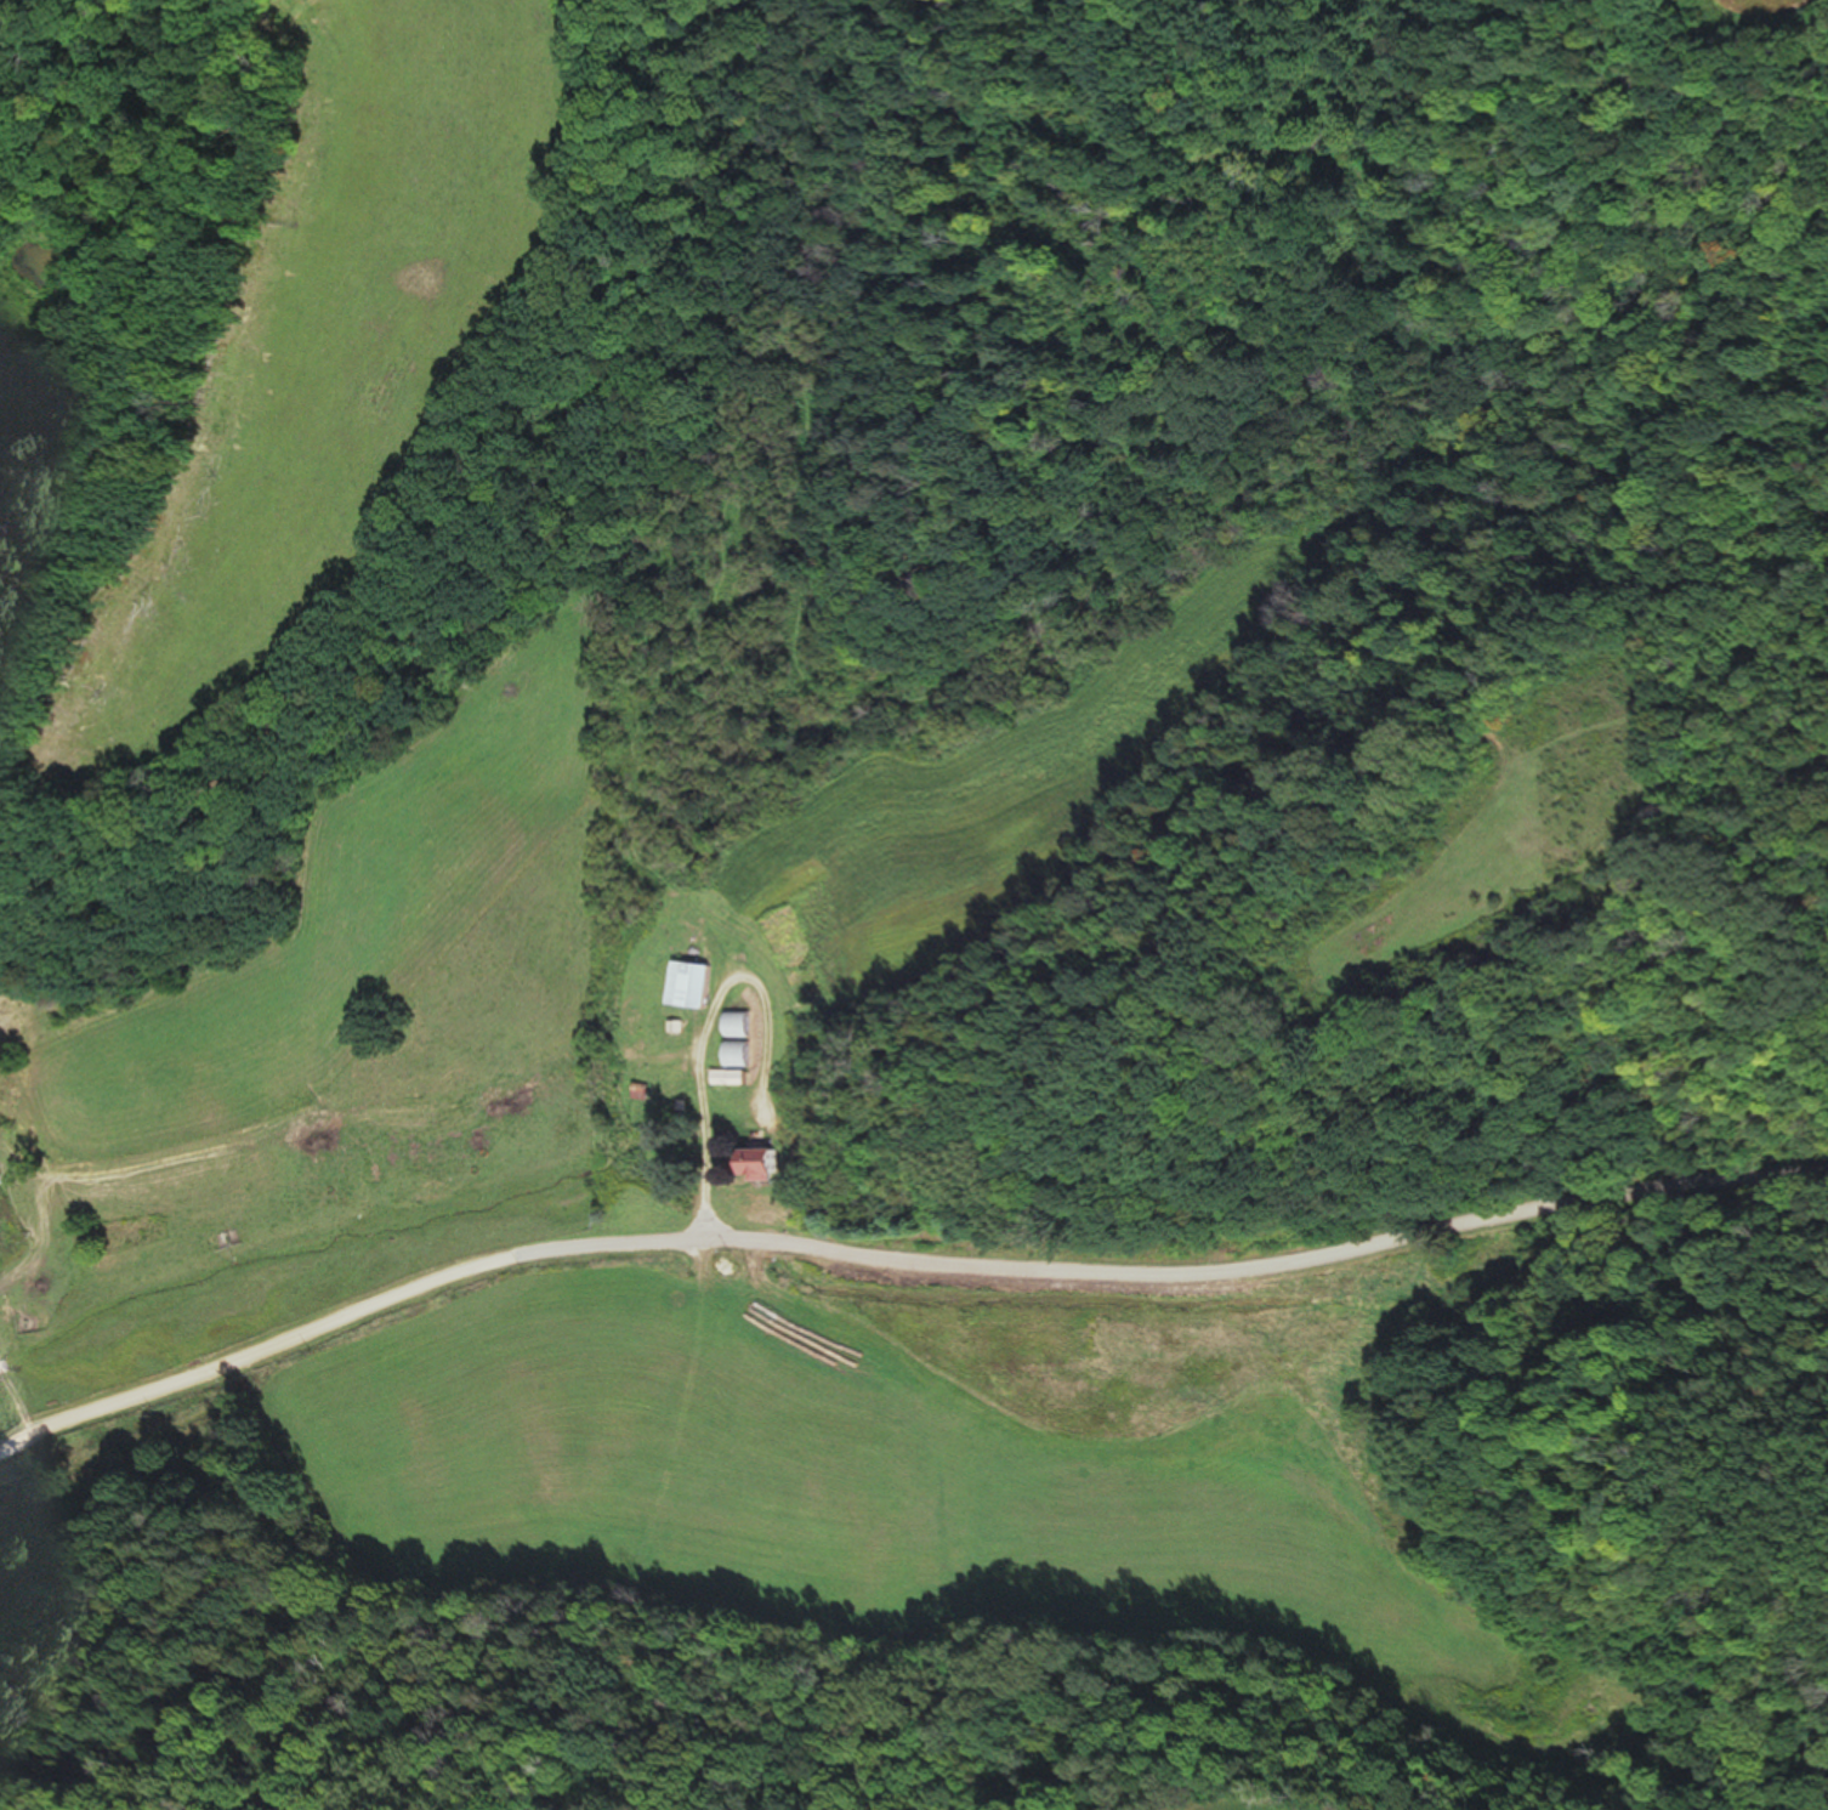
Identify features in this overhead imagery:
building: (692, 987)
building: (737, 1027)
building: (736, 1056)
building: (728, 1079)
building: (766, 1168)
building: (118, 1236)
road: (901, 1260)
building: (727, 1270)

